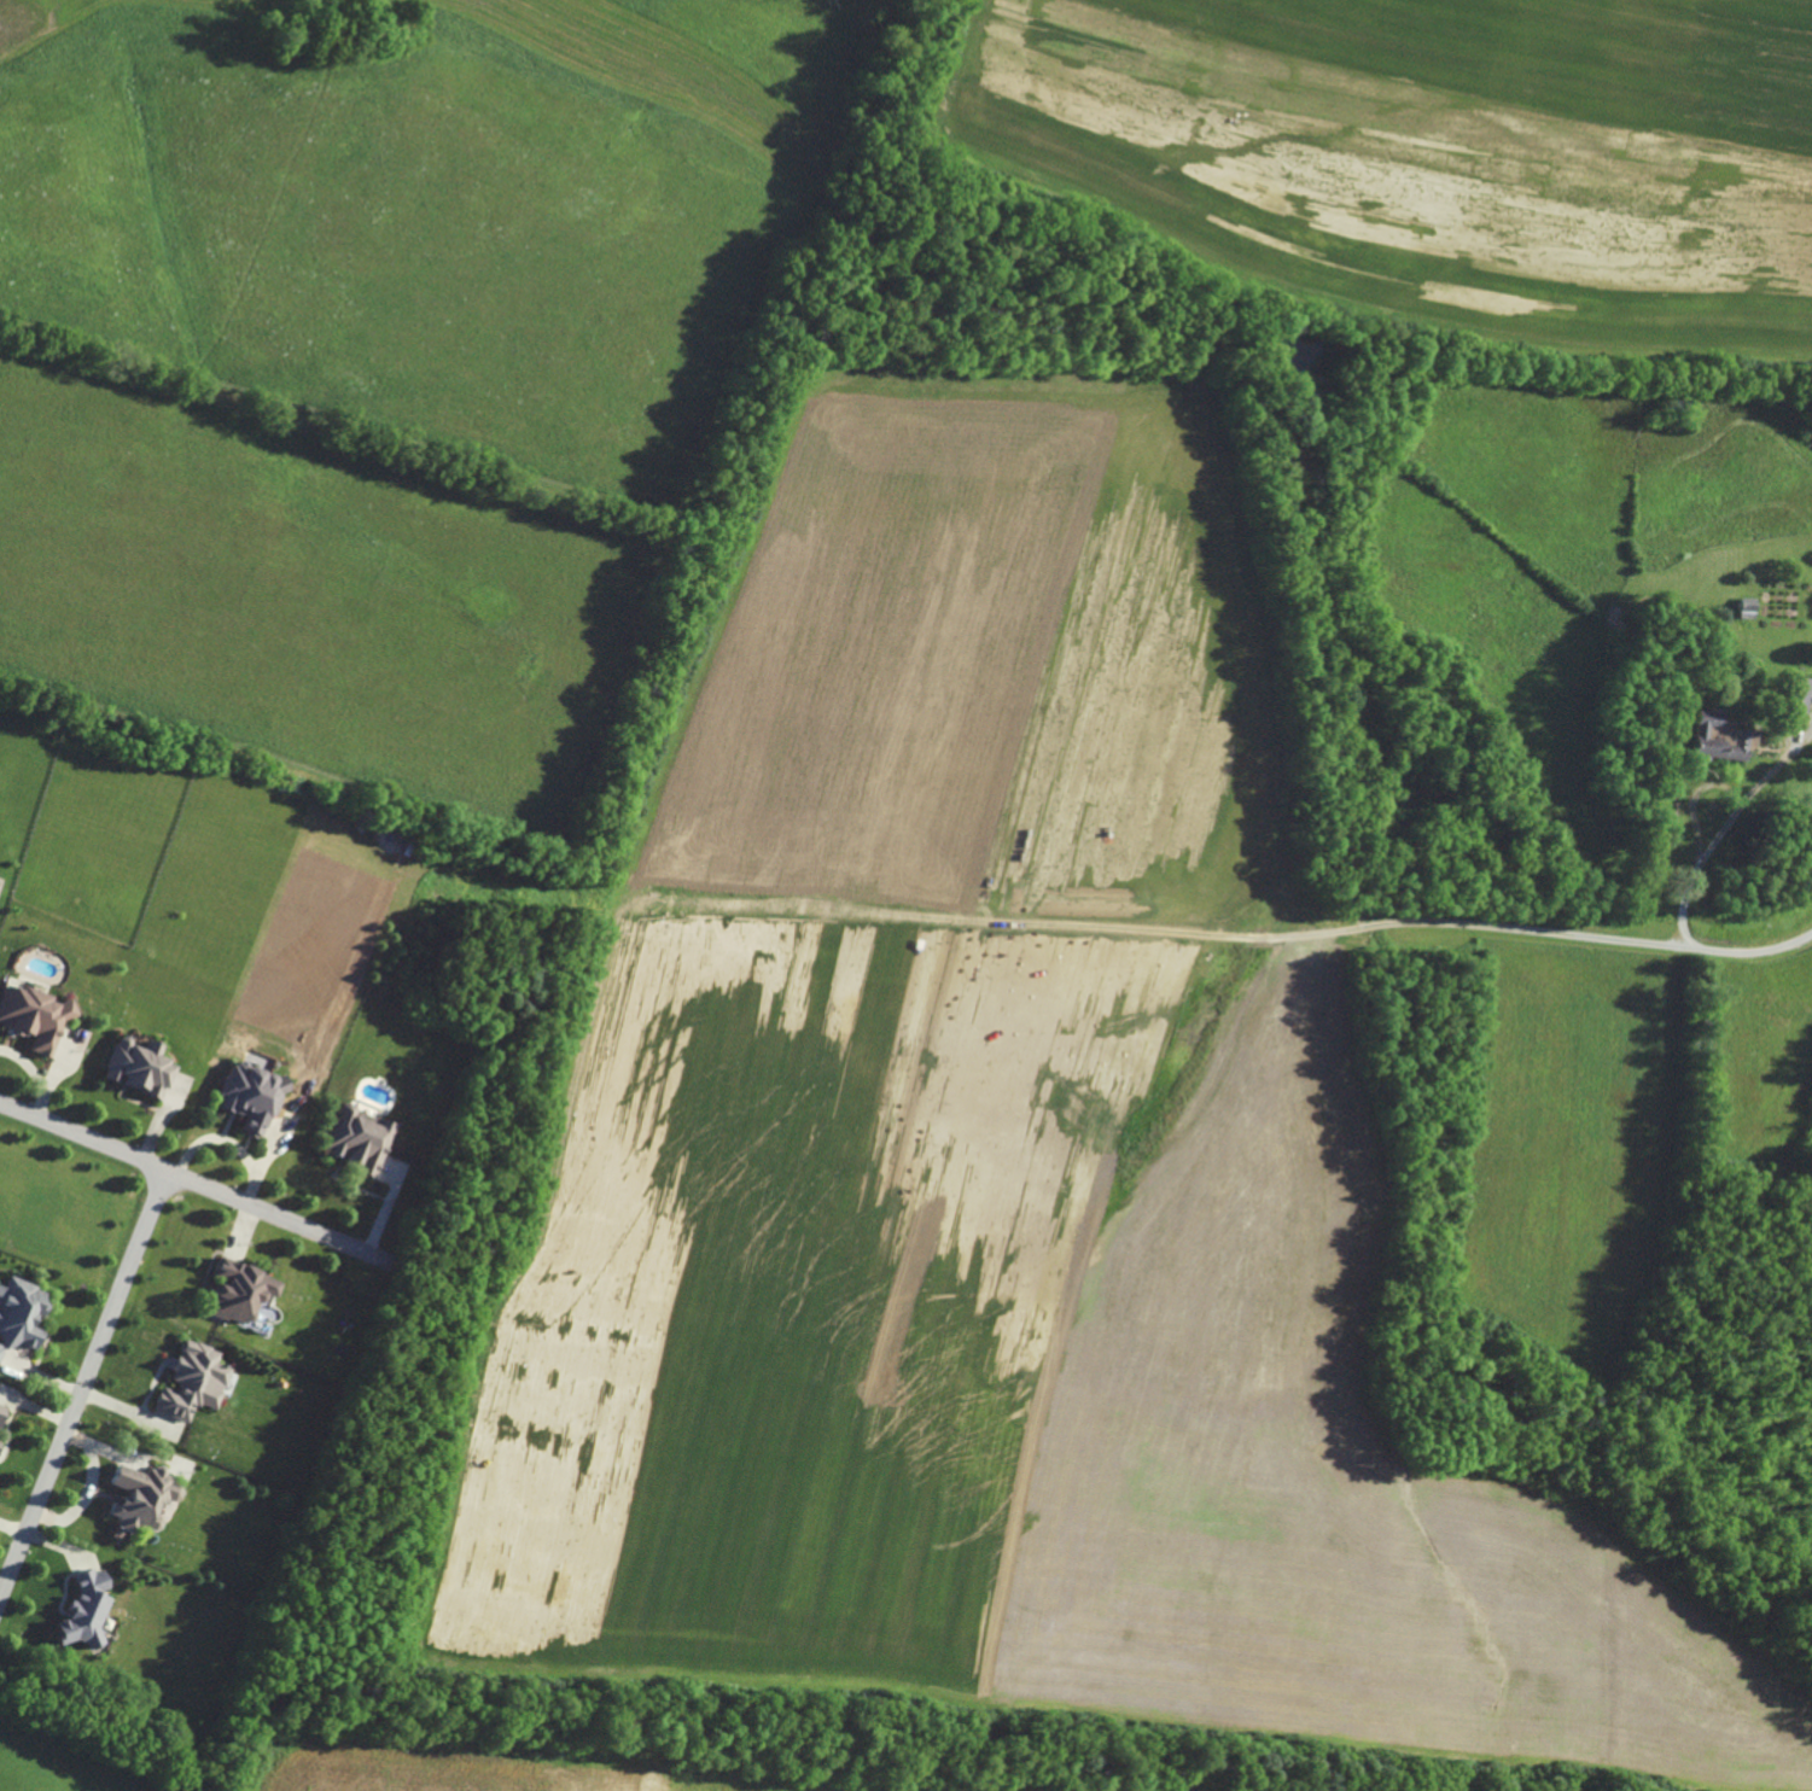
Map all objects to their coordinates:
building: (1798, 696)
building: (1743, 735)
road: (1685, 895)
building: (33, 1016)
building: (136, 1067)
road: (35, 1074)
building: (250, 1096)
building: (357, 1139)
road: (194, 1180)
building: (238, 1290)
building: (19, 1313)
road: (83, 1381)
building: (191, 1382)
building: (1, 1410)
building: (139, 1497)
building: (85, 1610)

